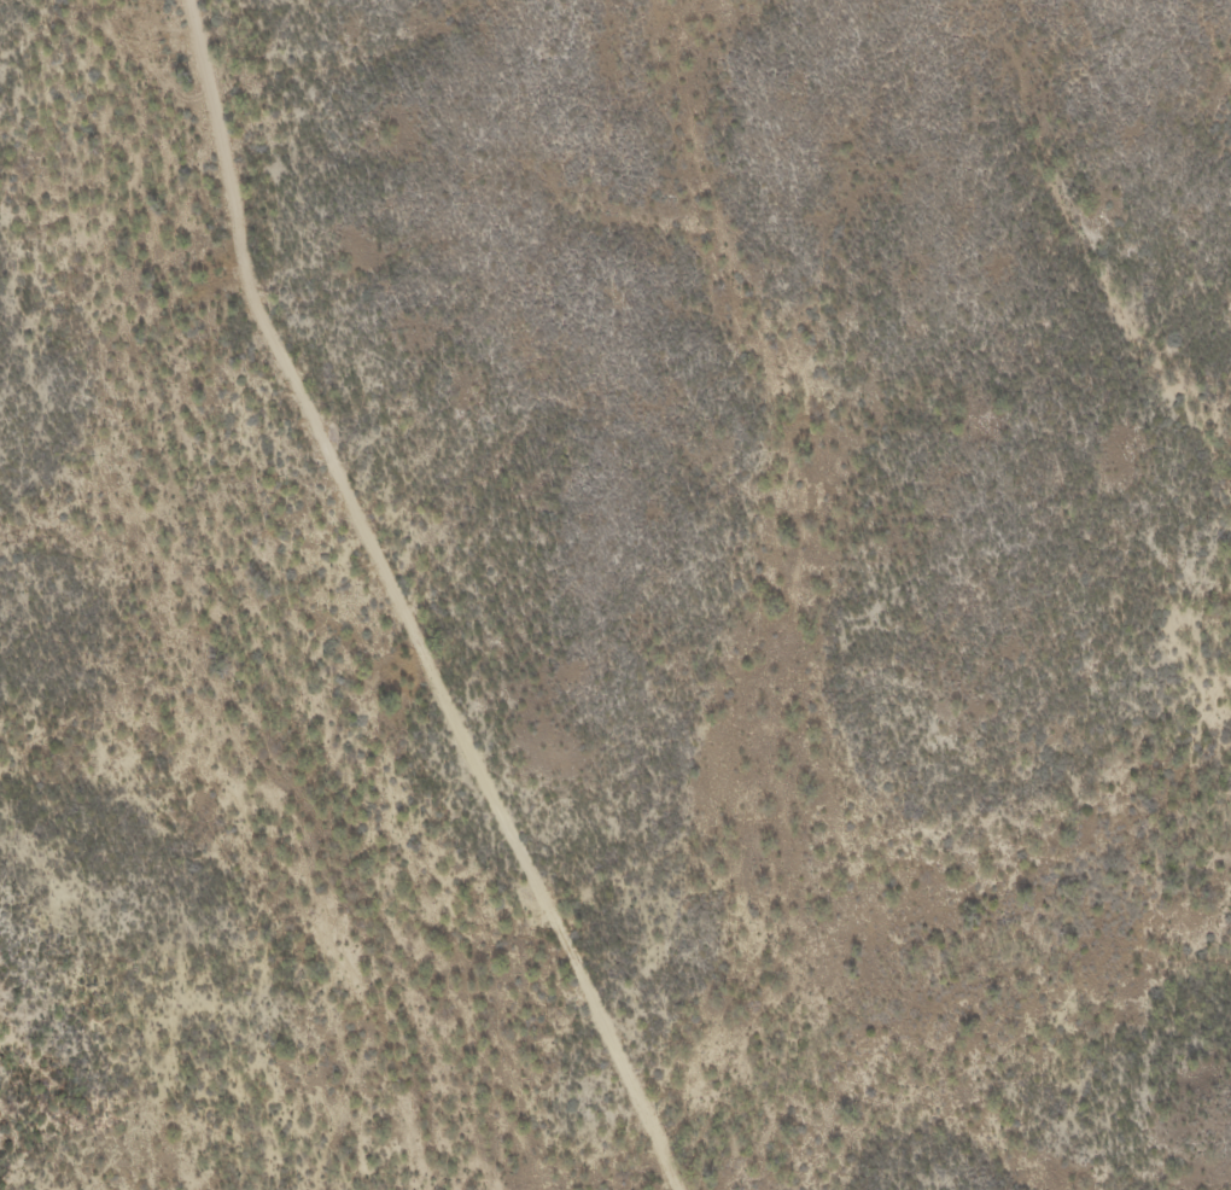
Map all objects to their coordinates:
road: (407, 606)

